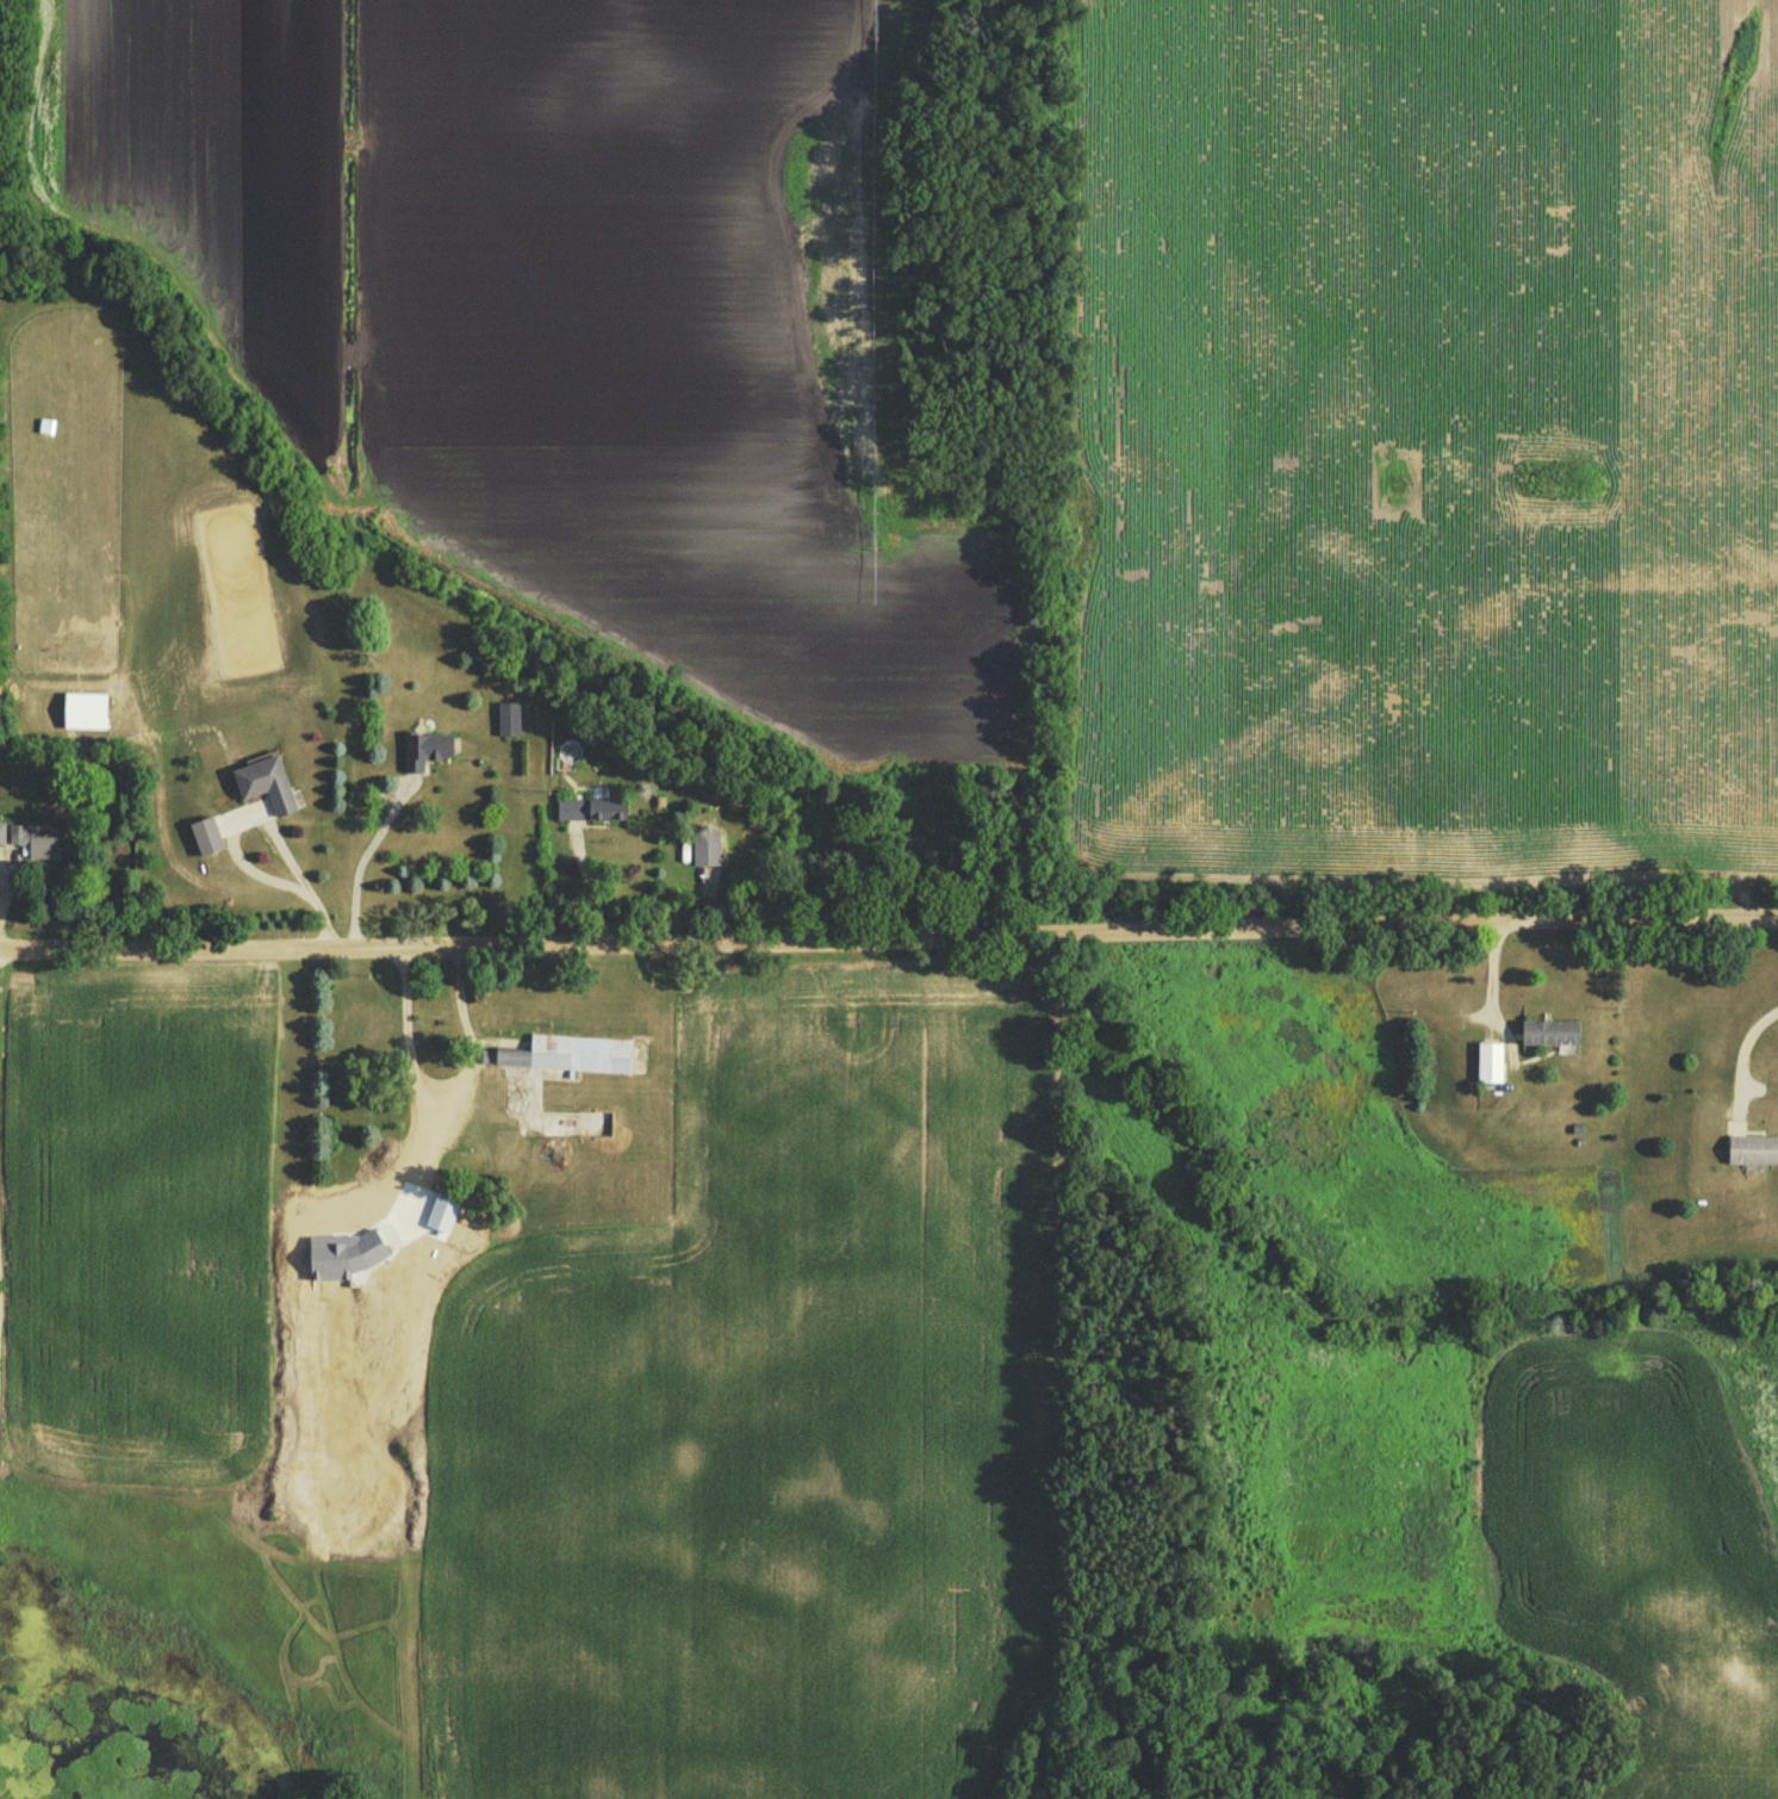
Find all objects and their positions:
building: (512, 722)
building: (429, 755)
building: (269, 789)
building: (597, 815)
building: (36, 850)
road: (236, 852)
building: (708, 854)
road: (363, 861)
road: (889, 936)
building: (371, 1036)
building: (1553, 1038)
road: (1740, 1049)
building: (573, 1059)
building: (1493, 1068)
road: (442, 1090)
building: (1755, 1155)
building: (414, 1179)

